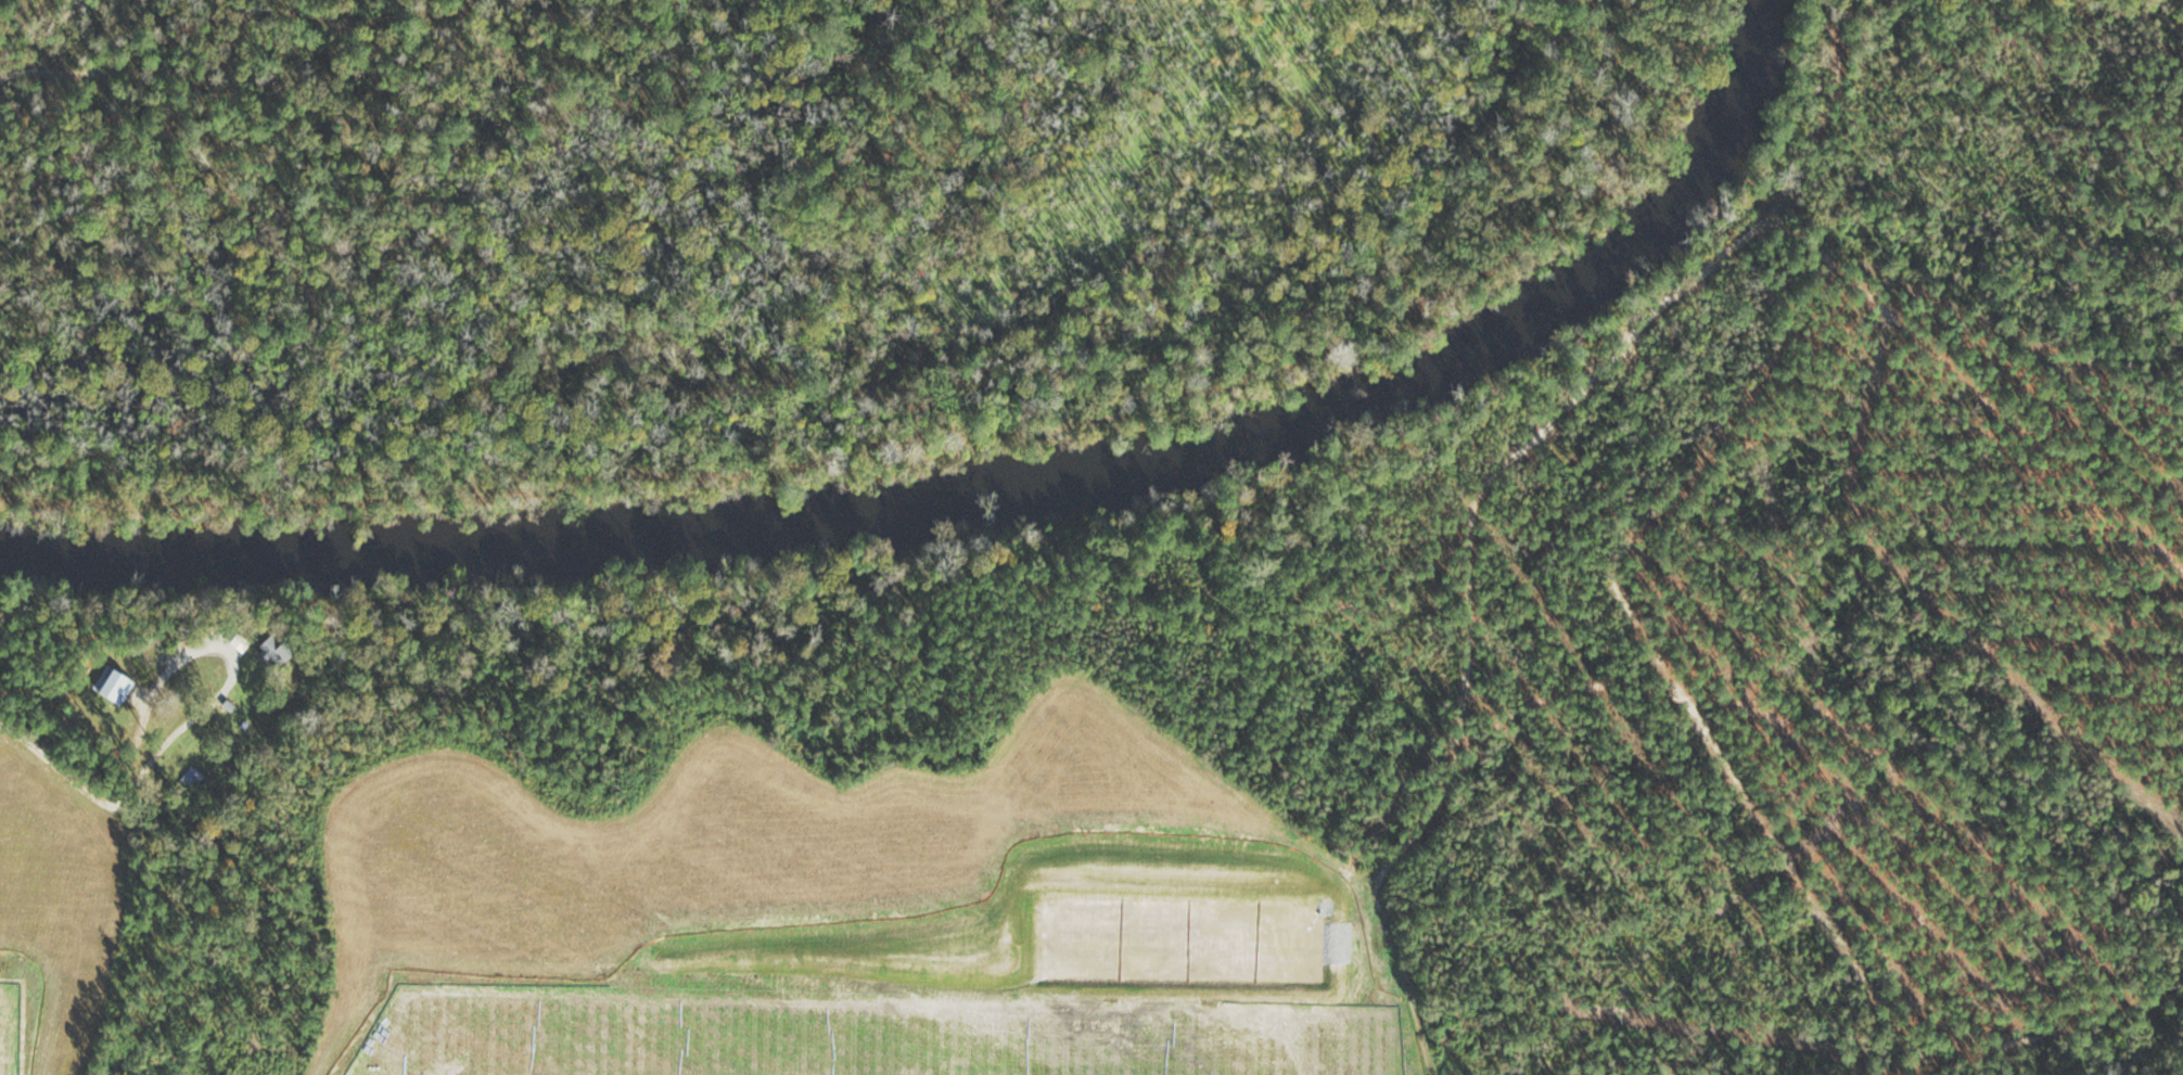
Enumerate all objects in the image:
airport: (748, 231)
river: (984, 487)
building: (242, 640)
building: (281, 649)
building: (116, 683)
road: (55, 758)
building: (195, 776)

